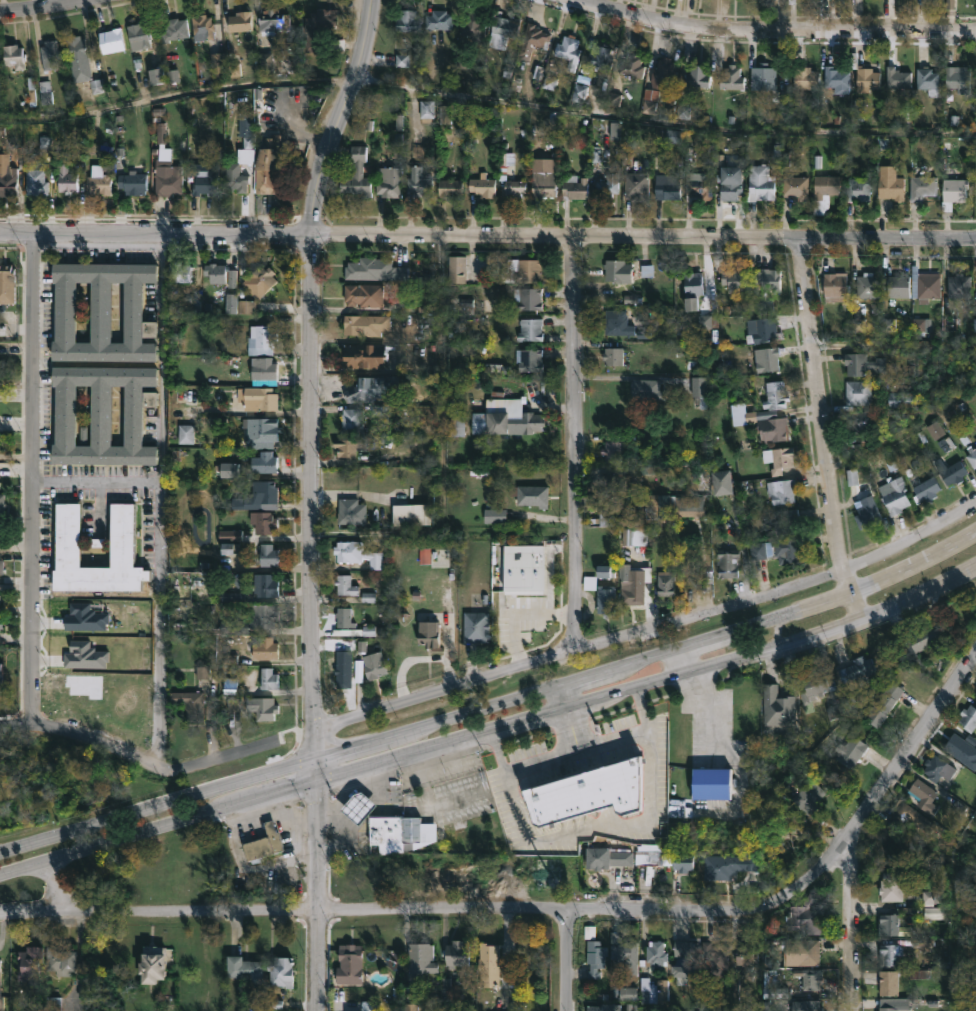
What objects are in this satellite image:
building: (791, 1)
building: (949, 3)
road: (48, 9)
building: (438, 18)
building: (406, 20)
building: (239, 21)
building: (271, 21)
building: (200, 26)
building: (318, 26)
building: (472, 26)
building: (173, 29)
building: (501, 29)
road: (770, 34)
building: (137, 35)
building: (110, 39)
building: (532, 40)
building: (75, 48)
building: (567, 50)
building: (11, 55)
building: (49, 55)
building: (599, 57)
building: (216, 60)
building: (632, 63)
building: (664, 75)
building: (697, 75)
building: (731, 77)
building: (805, 77)
building: (867, 77)
building: (897, 77)
building: (958, 77)
building: (836, 79)
building: (929, 80)
building: (768, 83)
building: (43, 94)
road: (486, 101)
road: (343, 119)
building: (266, 165)
building: (165, 167)
building: (231, 169)
building: (501, 171)
building: (356, 173)
building: (65, 176)
building: (6, 177)
building: (728, 178)
building: (541, 180)
building: (34, 181)
building: (97, 181)
building: (205, 181)
building: (388, 181)
building: (129, 183)
building: (760, 183)
building: (700, 184)
building: (417, 185)
building: (482, 185)
building: (635, 186)
building: (666, 186)
building: (795, 186)
building: (448, 187)
building: (573, 187)
building: (890, 187)
building: (921, 187)
building: (858, 188)
building: (607, 189)
building: (953, 192)
building: (824, 193)
road: (644, 237)
road: (155, 238)
building: (373, 269)
building: (456, 269)
building: (618, 270)
building: (179, 271)
building: (215, 271)
building: (525, 271)
building: (768, 279)
building: (262, 280)
building: (734, 282)
building: (7, 284)
building: (925, 284)
building: (867, 285)
building: (896, 285)
building: (957, 285)
building: (835, 287)
building: (691, 288)
building: (362, 295)
building: (529, 298)
building: (105, 312)
building: (618, 321)
building: (364, 325)
building: (532, 329)
building: (760, 330)
building: (262, 340)
building: (363, 356)
building: (612, 356)
building: (766, 358)
building: (529, 360)
building: (862, 364)
building: (263, 370)
building: (365, 388)
building: (699, 390)
building: (857, 392)
building: (654, 394)
building: (775, 395)
building: (186, 396)
building: (256, 398)
building: (902, 399)
building: (105, 415)
building: (508, 416)
building: (861, 420)
building: (350, 421)
building: (770, 425)
road: (823, 431)
building: (260, 432)
building: (187, 436)
road: (574, 442)
building: (347, 447)
building: (614, 451)
building: (971, 455)
building: (781, 458)
building: (265, 463)
building: (951, 471)
building: (607, 478)
road: (97, 479)
road: (33, 480)
building: (721, 482)
building: (927, 488)
building: (780, 491)
building: (528, 495)
building: (894, 495)
building: (257, 497)
road: (99, 505)
road: (163, 505)
building: (679, 505)
road: (311, 510)
building: (352, 512)
building: (495, 514)
building: (867, 514)
building: (410, 515)
building: (787, 522)
building: (264, 523)
building: (70, 537)
road: (743, 546)
building: (779, 550)
building: (355, 554)
building: (269, 556)
building: (729, 563)
building: (2, 567)
road: (548, 567)
building: (606, 573)
building: (665, 583)
building: (632, 584)
building: (344, 585)
building: (269, 586)
building: (600, 596)
building: (1, 598)
road: (516, 612)
building: (264, 614)
building: (535, 616)
building: (344, 619)
building: (2, 625)
building: (235, 626)
building: (477, 626)
road: (649, 626)
building: (426, 632)
building: (923, 638)
building: (265, 647)
building: (226, 651)
road: (682, 663)
building: (373, 666)
building: (858, 669)
building: (1, 673)
building: (344, 674)
building: (270, 677)
building: (816, 684)
road: (650, 686)
building: (975, 697)
road: (562, 700)
building: (190, 703)
building: (883, 703)
building: (777, 705)
road: (494, 706)
building: (264, 707)
building: (968, 717)
road: (292, 729)
road: (572, 730)
building: (953, 743)
road: (574, 750)
building: (854, 751)
road: (136, 761)
building: (938, 767)
building: (715, 782)
building: (809, 793)
building: (587, 794)
building: (924, 794)
building: (361, 806)
building: (910, 816)
road: (158, 826)
road: (598, 828)
building: (387, 833)
building: (418, 833)
building: (266, 842)
building: (610, 856)
building: (649, 856)
road: (56, 883)
building: (891, 885)
road: (318, 896)
road: (546, 907)
building: (937, 911)
building: (804, 915)
road: (851, 920)
building: (888, 923)
building: (683, 948)
building: (622, 949)
building: (807, 952)
building: (888, 954)
building: (459, 955)
building: (655, 955)
building: (595, 957)
building: (716, 957)
building: (423, 958)
building: (62, 959)
road: (568, 959)
building: (747, 959)
building: (156, 963)
building: (351, 963)
building: (32, 964)
building: (490, 964)
building: (246, 968)
building: (282, 970)
building: (809, 978)
building: (888, 982)
building: (1, 987)
building: (652, 990)
building: (889, 1004)
building: (804, 1005)
building: (603, 1007)

